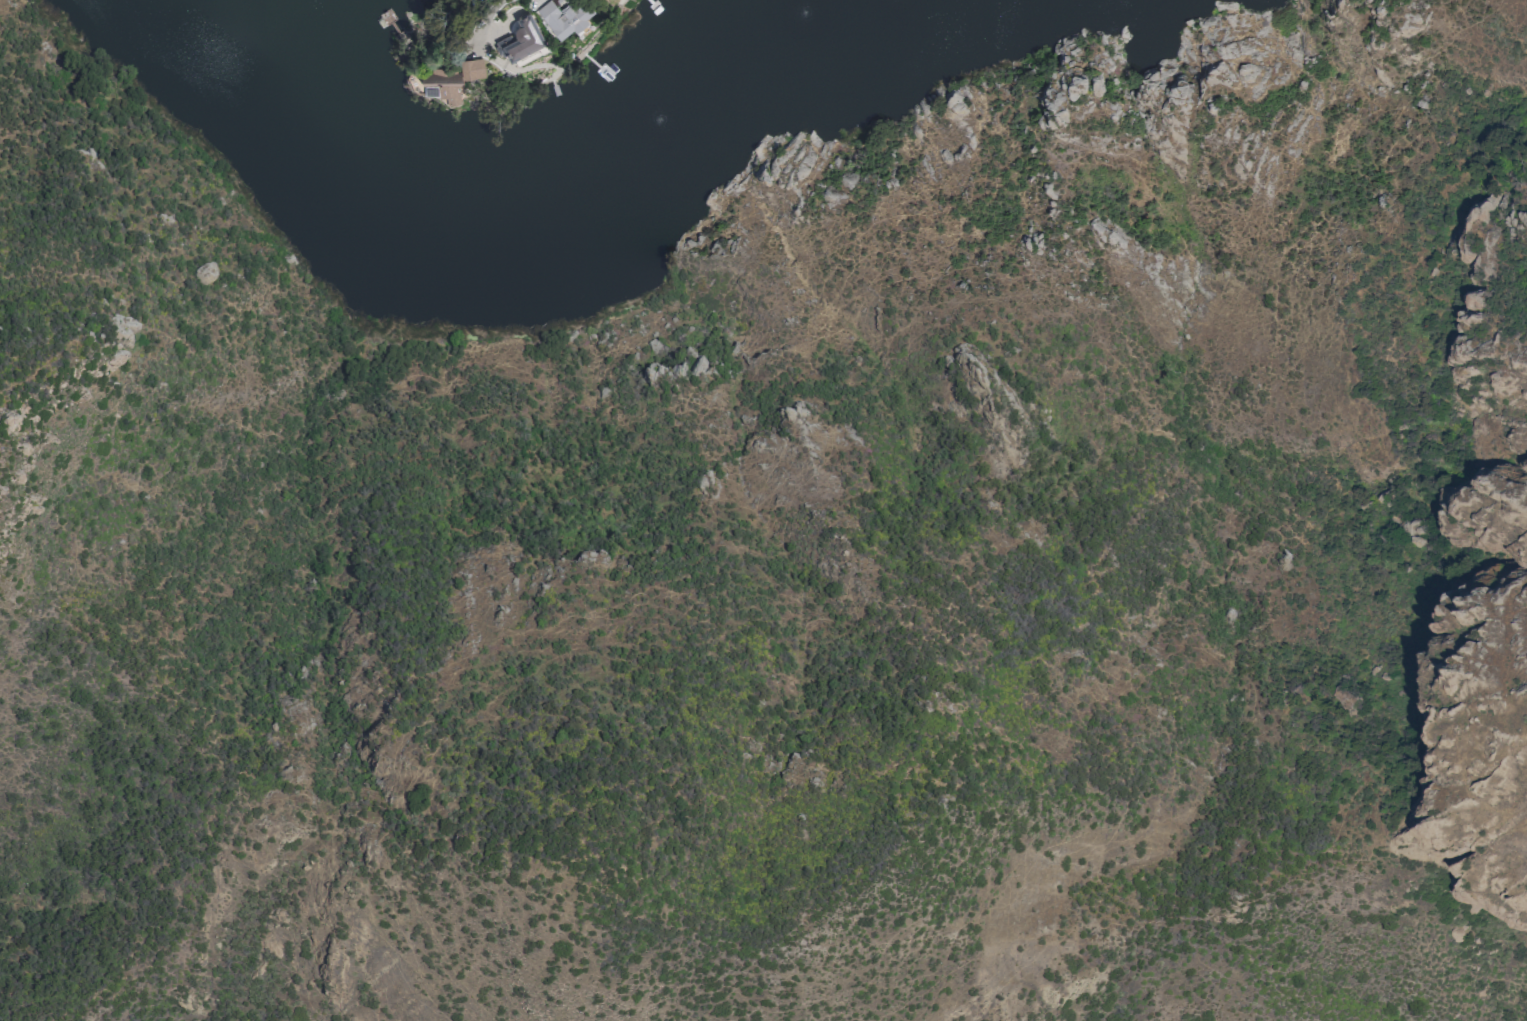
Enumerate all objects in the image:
road: (492, 4)
building: (563, 12)
building: (519, 33)
building: (452, 75)

